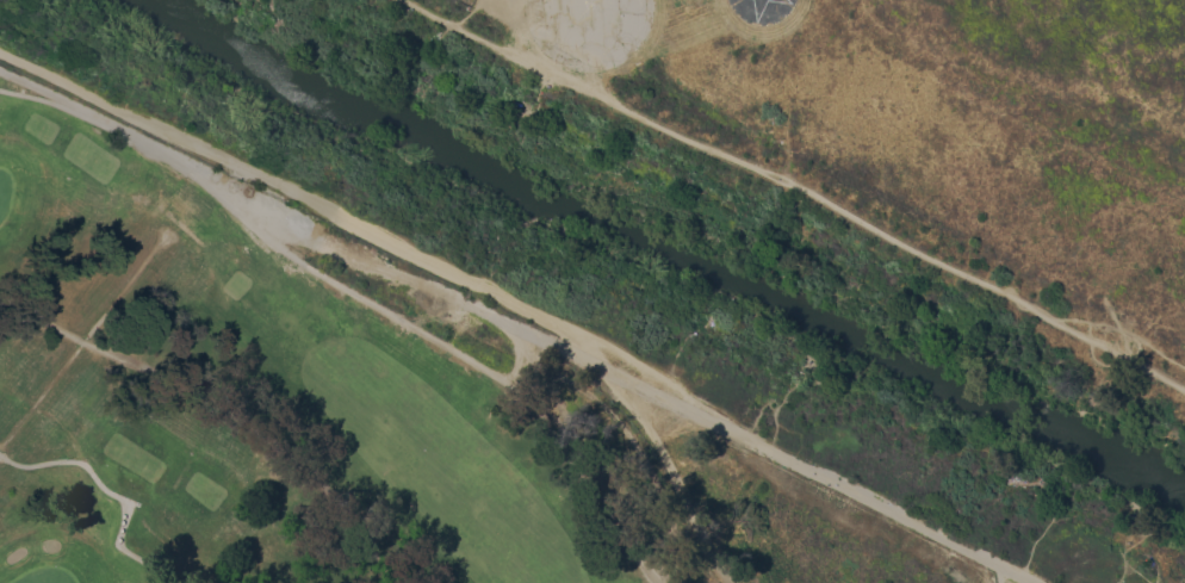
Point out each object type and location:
helipad: (589, 5)
road: (61, 106)
road: (800, 187)
road: (300, 194)
river: (664, 253)
park: (592, 291)
road: (356, 294)
park: (279, 392)
road: (228, 409)
road: (664, 466)
road: (808, 470)
road: (111, 492)
road: (128, 504)
road: (1000, 575)
park: (43, 576)

